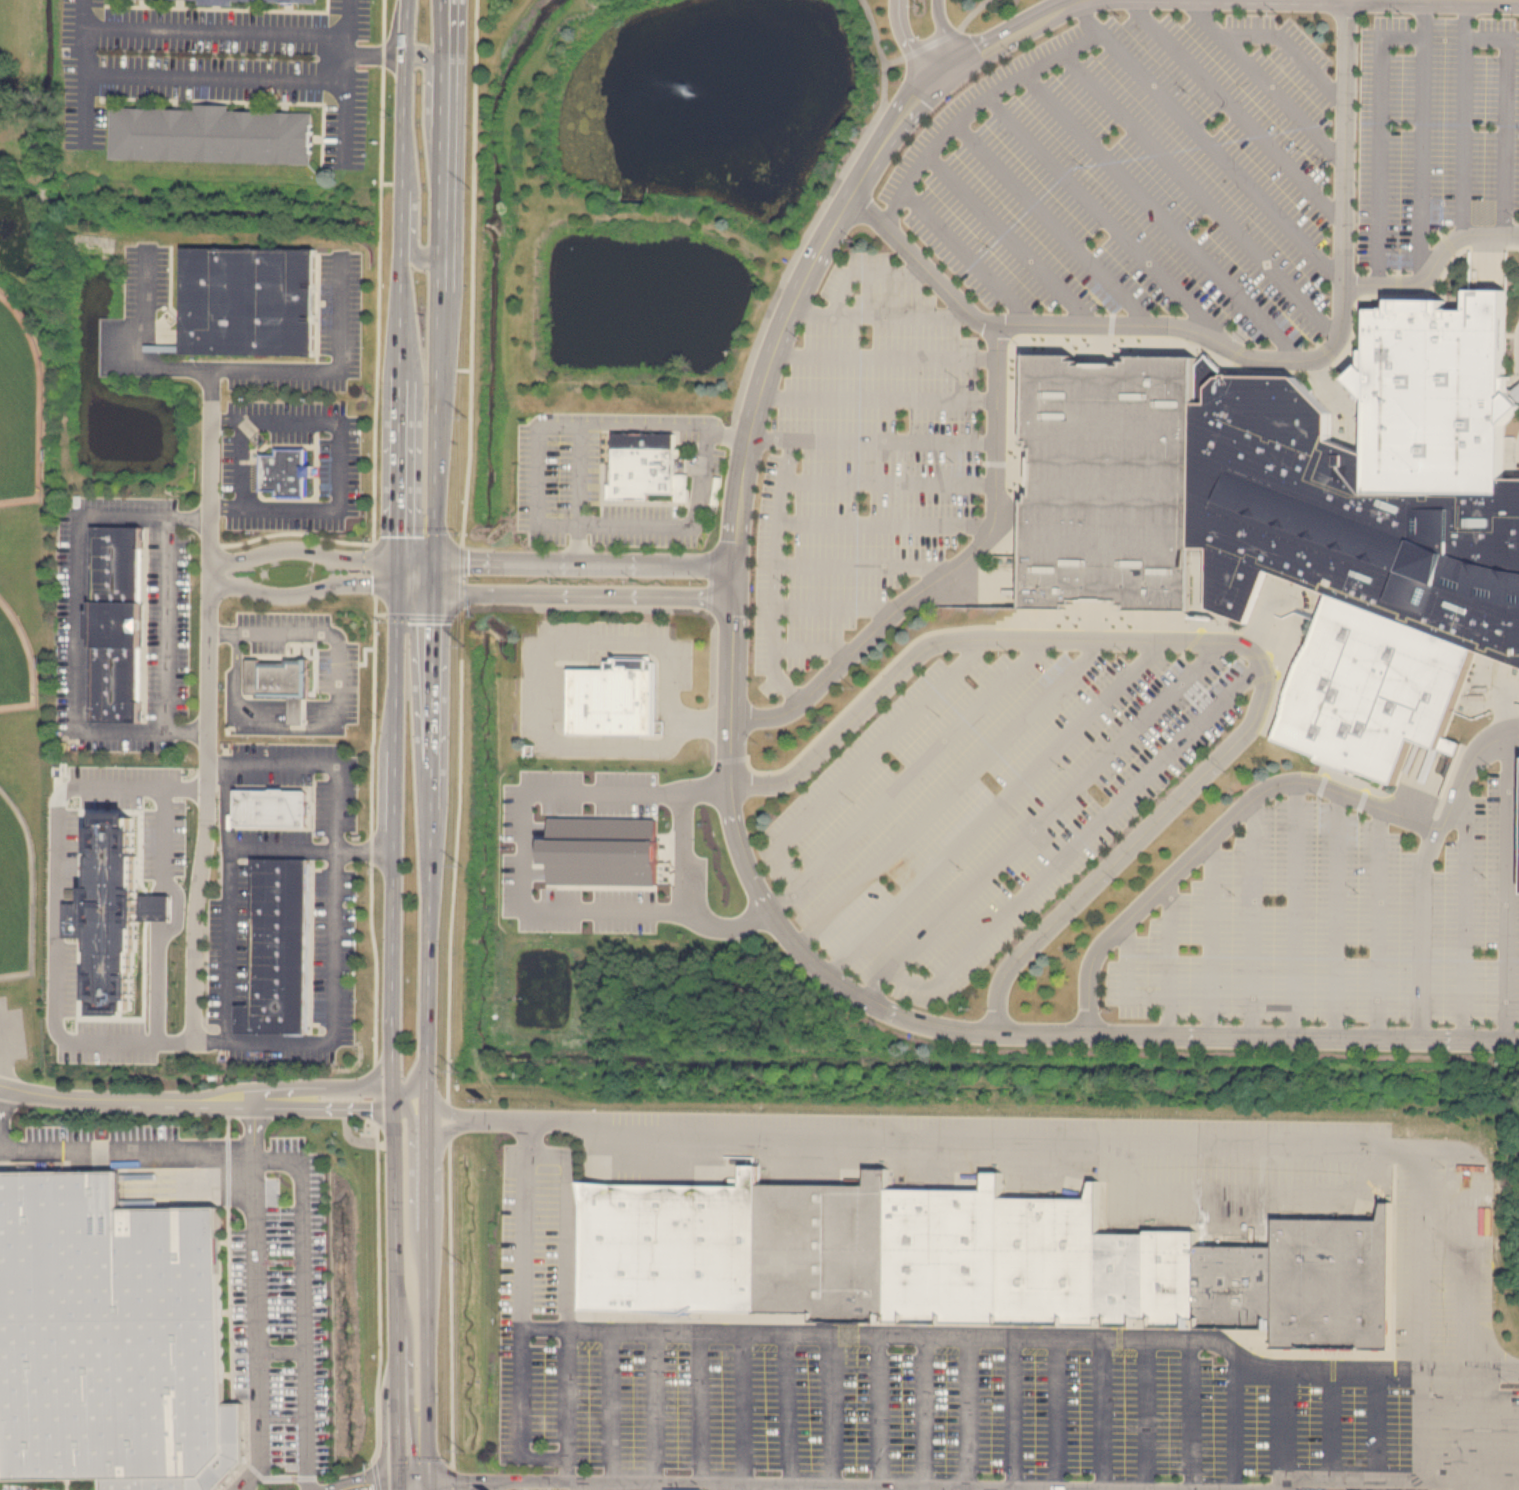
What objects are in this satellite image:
building: (285, 1)
road: (86, 14)
road: (349, 19)
road: (945, 31)
road: (218, 33)
road: (940, 39)
road: (908, 42)
road: (1289, 48)
road: (87, 52)
road: (377, 54)
road: (348, 60)
parking lot: (219, 64)
road: (435, 72)
road: (940, 73)
road: (218, 80)
road: (1264, 81)
road: (987, 95)
road: (88, 108)
road: (1234, 111)
road: (1505, 115)
road: (1463, 116)
road: (347, 124)
parking lot: (1435, 130)
building: (212, 135)
road: (1421, 136)
road: (1379, 138)
road: (1218, 156)
parking lot: (1138, 176)
road: (1198, 193)
road: (1099, 212)
road: (1160, 214)
road: (817, 215)
road: (1050, 221)
road: (1441, 234)
road: (1007, 236)
road: (415, 255)
road: (966, 255)
road: (1399, 261)
road: (921, 264)
road: (1433, 264)
road: (866, 272)
parking lot: (152, 275)
road: (1397, 278)
road: (398, 289)
road: (442, 289)
road: (1396, 295)
road: (1419, 297)
building: (253, 300)
parking lot: (348, 302)
road: (471, 307)
road: (877, 313)
road: (1111, 317)
road: (1033, 342)
road: (1317, 343)
road: (1244, 344)
road: (1332, 344)
road: (136, 345)
road: (1515, 349)
road: (1101, 355)
road: (884, 356)
road: (1347, 362)
road: (319, 370)
road: (766, 372)
building: (1207, 376)
road: (1206, 380)
building: (1437, 394)
road: (1345, 396)
road: (1518, 396)
road: (877, 398)
park: (19, 407)
road: (728, 434)
road: (894, 439)
road: (978, 461)
road: (996, 462)
parking lot: (346, 463)
parking lot: (862, 464)
road: (240, 465)
road: (339, 465)
building: (646, 465)
building: (288, 472)
road: (1025, 472)
road: (889, 481)
building: (1112, 484)
road: (578, 493)
parking lot: (581, 495)
building: (1345, 519)
road: (542, 523)
road: (885, 523)
road: (777, 551)
road: (574, 562)
road: (861, 565)
road: (946, 571)
road: (225, 574)
traffic signals: (418, 577)
road: (732, 580)
road: (956, 585)
road: (1202, 586)
road: (1274, 591)
road: (573, 594)
road: (834, 606)
road: (658, 609)
road: (1098, 613)
road: (80, 622)
road: (167, 624)
building: (120, 625)
road: (1024, 625)
road: (1215, 641)
road: (813, 647)
road: (236, 650)
road: (1188, 650)
parking lot: (316, 652)
road: (1257, 654)
parking lot: (591, 660)
park: (15, 661)
road: (1496, 670)
road: (1270, 674)
building: (278, 676)
road: (337, 683)
road: (541, 686)
building: (1373, 688)
building: (615, 699)
road: (1502, 701)
road: (1512, 704)
road: (1513, 725)
road: (1513, 738)
road: (867, 757)
road: (1335, 768)
road: (907, 775)
road: (1380, 783)
road: (1446, 783)
parking lot: (307, 785)
road: (1381, 789)
road: (1261, 790)
road: (950, 793)
road: (1317, 797)
parking lot: (989, 801)
road: (209, 808)
building: (272, 808)
road: (995, 808)
road: (1357, 811)
road: (1042, 820)
road: (1081, 841)
road: (322, 851)
parking lot: (530, 854)
road: (689, 854)
building: (608, 859)
road: (524, 874)
road: (1506, 885)
park: (16, 889)
road: (227, 901)
building: (111, 902)
road: (333, 906)
road: (1294, 908)
road: (57, 910)
road: (180, 912)
road: (1334, 913)
road: (1463, 917)
road: (1252, 918)
parking lot: (1338, 918)
road: (1377, 922)
road: (1421, 931)
parking lot: (231, 936)
road: (1210, 938)
building: (280, 950)
parking lot: (338, 950)
road: (1168, 958)
road: (1126, 980)
road: (962, 1029)
road: (414, 1033)
road: (447, 1051)
road: (3, 1061)
road: (206, 1095)
road: (256, 1123)
road: (1085, 1144)
road: (1248, 1193)
road: (257, 1194)
road: (570, 1224)
building: (674, 1246)
building: (827, 1248)
building: (947, 1253)
building: (1053, 1259)
building: (1173, 1274)
building: (1336, 1283)
building: (1237, 1285)
road: (305, 1302)
parking lot: (281, 1309)
building: (108, 1331)
road: (821, 1335)
road: (283, 1351)
road: (1477, 1374)
road: (570, 1395)
parking lot: (932, 1397)
road: (614, 1409)
road: (657, 1411)
road: (703, 1411)
road: (748, 1412)
road: (790, 1412)
road: (838, 1413)
road: (884, 1413)
road: (928, 1414)
road: (971, 1414)
road: (1015, 1414)
road: (1058, 1415)
road: (1105, 1415)
road: (1147, 1416)
road: (1194, 1416)
road: (524, 1423)
road: (1237, 1423)
road: (1333, 1426)
road: (1375, 1427)
road: (1421, 1427)
road: (1285, 1428)
road: (1483, 1432)
road: (464, 1481)
road: (561, 1481)
road: (1380, 1482)
road: (1501, 1482)
parking lot: (17, 1487)
traffic signals: (418, 1487)
road: (391, 1488)
road: (420, 1488)
road: (633, 1488)
road: (605, 1489)
road: (610, 1489)

